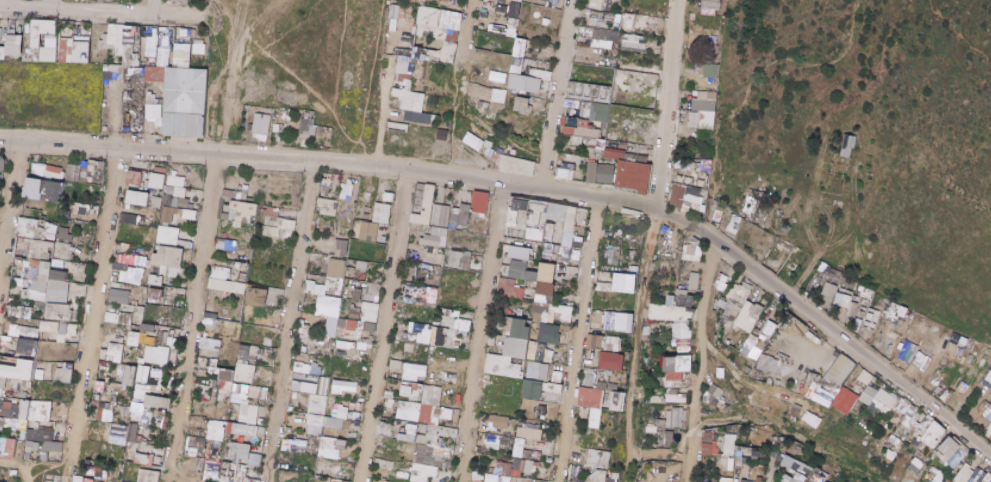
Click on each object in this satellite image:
building: (444, 0)
building: (516, 0)
building: (177, 1)
building: (447, 1)
building: (519, 1)
building: (454, 2)
building: (549, 2)
building: (486, 3)
road: (52, 4)
building: (600, 5)
road: (153, 6)
building: (709, 7)
road: (76, 9)
building: (501, 9)
building: (516, 10)
building: (558, 11)
building: (490, 12)
road: (178, 14)
building: (483, 16)
building: (691, 17)
building: (448, 19)
building: (605, 19)
building: (511, 23)
building: (449, 25)
building: (629, 25)
building: (634, 25)
building: (50, 26)
building: (639, 26)
building: (480, 27)
building: (706, 27)
building: (35, 28)
building: (155, 29)
building: (445, 29)
building: (499, 29)
building: (511, 29)
building: (0, 30)
building: (188, 32)
building: (132, 33)
building: (203, 33)
building: (390, 35)
building: (450, 35)
building: (440, 37)
building: (115, 38)
building: (604, 39)
building: (479, 40)
building: (624, 40)
building: (710, 40)
building: (527, 41)
building: (633, 41)
building: (33, 42)
building: (150, 42)
building: (198, 42)
building: (713, 42)
building: (12, 44)
building: (46, 46)
building: (521, 46)
building: (527, 47)
building: (536, 47)
building: (170, 49)
building: (197, 49)
building: (630, 49)
building: (82, 50)
building: (181, 50)
building: (711, 50)
building: (29, 51)
building: (548, 51)
building: (162, 52)
building: (2, 53)
building: (64, 53)
road: (465, 53)
building: (516, 53)
building: (152, 54)
building: (691, 56)
building: (97, 57)
building: (10, 59)
building: (130, 59)
building: (45, 60)
building: (49, 61)
building: (177, 61)
building: (439, 61)
building: (522, 64)
building: (170, 66)
building: (176, 66)
building: (113, 69)
road: (237, 69)
building: (708, 70)
building: (148, 73)
building: (416, 77)
building: (404, 78)
building: (525, 82)
building: (407, 83)
building: (403, 87)
road: (556, 92)
building: (292, 93)
building: (694, 93)
building: (711, 95)
road: (385, 96)
building: (404, 96)
building: (701, 96)
building: (500, 98)
building: (153, 100)
building: (187, 102)
road: (669, 103)
building: (574, 104)
building: (588, 104)
building: (523, 105)
building: (703, 105)
building: (590, 108)
building: (152, 111)
building: (601, 112)
building: (589, 114)
building: (573, 117)
building: (418, 118)
building: (692, 120)
building: (706, 120)
building: (309, 122)
building: (583, 123)
building: (261, 124)
building: (595, 124)
building: (154, 125)
building: (604, 125)
building: (309, 128)
building: (324, 128)
building: (590, 128)
building: (104, 129)
building: (567, 130)
building: (587, 133)
building: (304, 137)
building: (599, 137)
building: (473, 142)
road: (493, 142)
building: (572, 142)
building: (592, 143)
building: (615, 150)
building: (494, 154)
building: (558, 156)
building: (584, 157)
road: (330, 160)
building: (2, 164)
building: (518, 166)
building: (94, 169)
building: (567, 170)
building: (49, 172)
building: (75, 173)
building: (559, 173)
building: (634, 173)
building: (98, 174)
building: (251, 174)
building: (261, 174)
building: (603, 174)
building: (621, 177)
building: (137, 178)
building: (156, 181)
building: (176, 182)
building: (680, 182)
building: (98, 183)
building: (328, 185)
building: (688, 185)
building: (133, 188)
building: (168, 190)
building: (54, 191)
building: (34, 192)
building: (233, 196)
building: (249, 199)
building: (177, 200)
building: (137, 201)
building: (154, 201)
road: (10, 202)
building: (319, 202)
building: (273, 204)
building: (519, 205)
building: (127, 207)
building: (328, 207)
building: (426, 207)
building: (81, 210)
building: (93, 210)
building: (175, 210)
building: (243, 211)
building: (271, 212)
building: (541, 212)
building: (320, 213)
building: (327, 213)
building: (63, 214)
building: (166, 215)
building: (436, 215)
building: (459, 215)
building: (559, 217)
building: (245, 218)
building: (385, 218)
building: (128, 219)
building: (194, 220)
building: (575, 220)
building: (179, 221)
building: (33, 222)
building: (273, 222)
building: (558, 222)
building: (258, 230)
building: (371, 231)
building: (49, 232)
building: (272, 232)
building: (534, 233)
building: (551, 233)
building: (287, 234)
building: (64, 235)
building: (571, 235)
building: (435, 239)
building: (563, 240)
building: (567, 240)
building: (577, 240)
building: (167, 241)
building: (268, 243)
building: (382, 243)
building: (226, 245)
building: (127, 246)
building: (339, 246)
building: (189, 247)
building: (521, 249)
building: (39, 250)
building: (325, 250)
building: (549, 251)
building: (446, 252)
building: (63, 253)
building: (562, 253)
building: (694, 253)
building: (169, 257)
building: (611, 257)
building: (614, 257)
building: (455, 259)
building: (131, 260)
building: (626, 260)
building: (636, 261)
building: (56, 262)
building: (465, 262)
building: (719, 262)
building: (36, 264)
building: (166, 264)
building: (407, 266)
building: (725, 266)
building: (88, 268)
building: (318, 268)
building: (354, 268)
building: (336, 269)
building: (351, 269)
building: (514, 270)
building: (621, 270)
building: (168, 271)
building: (474, 271)
building: (627, 271)
building: (820, 271)
building: (45, 272)
building: (132, 272)
building: (170, 272)
building: (240, 272)
building: (633, 272)
building: (729, 272)
building: (221, 273)
building: (415, 273)
building: (547, 273)
building: (377, 274)
building: (33, 275)
building: (423, 275)
building: (13, 276)
building: (59, 276)
building: (139, 276)
building: (360, 276)
building: (530, 276)
building: (830, 277)
building: (727, 278)
building: (113, 279)
building: (561, 279)
building: (604, 279)
building: (156, 280)
building: (14, 281)
building: (376, 281)
building: (611, 281)
building: (628, 281)
building: (358, 282)
building: (433, 282)
building: (694, 282)
building: (334, 283)
building: (621, 284)
building: (720, 285)
building: (817, 287)
building: (314, 289)
building: (39, 290)
building: (511, 290)
building: (570, 290)
building: (347, 291)
building: (369, 291)
building: (839, 291)
building: (337, 292)
building: (732, 292)
building: (545, 293)
building: (156, 294)
building: (359, 294)
building: (740, 294)
building: (832, 294)
building: (424, 295)
building: (857, 295)
road: (98, 297)
building: (122, 297)
building: (258, 297)
building: (353, 298)
building: (533, 299)
building: (684, 300)
building: (718, 300)
building: (842, 300)
building: (353, 301)
building: (862, 301)
building: (721, 302)
building: (182, 303)
building: (239, 306)
building: (41, 307)
building: (552, 307)
building: (229, 308)
building: (16, 311)
building: (62, 312)
building: (354, 313)
building: (543, 313)
building: (214, 314)
building: (678, 314)
building: (730, 314)
building: (29, 315)
building: (124, 315)
road: (195, 315)
building: (236, 315)
building: (364, 315)
building: (139, 316)
building: (749, 316)
building: (229, 317)
building: (360, 317)
building: (113, 318)
building: (370, 318)
building: (752, 320)
road: (293, 321)
building: (453, 322)
building: (530, 322)
building: (622, 322)
road: (387, 324)
road: (827, 325)
building: (361, 326)
building: (370, 326)
building: (52, 327)
building: (330, 327)
building: (514, 328)
building: (120, 329)
building: (303, 329)
road: (644, 329)
building: (348, 330)
road: (482, 330)
building: (683, 331)
building: (24, 332)
building: (67, 332)
building: (420, 334)
building: (549, 334)
building: (150, 335)
building: (306, 336)
road: (582, 338)
building: (135, 339)
building: (167, 339)
building: (371, 339)
building: (444, 339)
building: (315, 341)
building: (957, 341)
building: (13, 342)
building: (596, 342)
building: (211, 343)
building: (616, 344)
building: (344, 345)
building: (757, 346)
building: (30, 347)
building: (116, 347)
building: (256, 348)
building: (136, 349)
building: (244, 350)
building: (252, 350)
building: (542, 353)
building: (26, 355)
building: (104, 355)
building: (165, 355)
building: (115, 357)
building: (1, 359)
road: (698, 360)
building: (11, 361)
building: (612, 362)
building: (773, 364)
building: (397, 366)
building: (41, 367)
building: (302, 368)
building: (20, 370)
building: (416, 371)
building: (539, 371)
building: (675, 371)
building: (66, 373)
building: (129, 374)
building: (145, 375)
building: (227, 380)
building: (988, 380)
building: (828, 385)
building: (345, 387)
building: (209, 389)
building: (415, 390)
building: (535, 390)
building: (556, 393)
building: (436, 396)
building: (675, 396)
building: (715, 396)
building: (139, 397)
building: (160, 401)
building: (619, 402)
building: (106, 403)
building: (594, 403)
building: (985, 409)
building: (410, 411)
building: (28, 412)
building: (543, 412)
building: (141, 414)
building: (243, 414)
building: (346, 414)
building: (909, 416)
building: (320, 417)
building: (672, 419)
building: (810, 420)
building: (928, 421)
building: (990, 421)
building: (500, 422)
building: (243, 430)
building: (649, 430)
building: (217, 433)
building: (450, 433)
building: (124, 434)
building: (529, 434)
building: (937, 434)
building: (397, 438)
building: (665, 439)
building: (759, 440)
building: (46, 442)
building: (495, 442)
building: (344, 444)
building: (294, 446)
building: (194, 447)
building: (955, 447)
building: (9, 448)
building: (524, 448)
building: (721, 448)
building: (329, 450)
building: (244, 454)
building: (430, 456)
building: (752, 456)
building: (151, 458)
building: (599, 459)
building: (796, 467)
building: (503, 469)
building: (727, 469)
building: (210, 471)
building: (516, 472)
building: (424, 473)
building: (973, 475)
building: (148, 476)
building: (603, 477)
building: (83, 480)
building: (382, 480)
building: (790, 480)
building: (936, 480)
building: (342, 481)
building: (745, 481)

